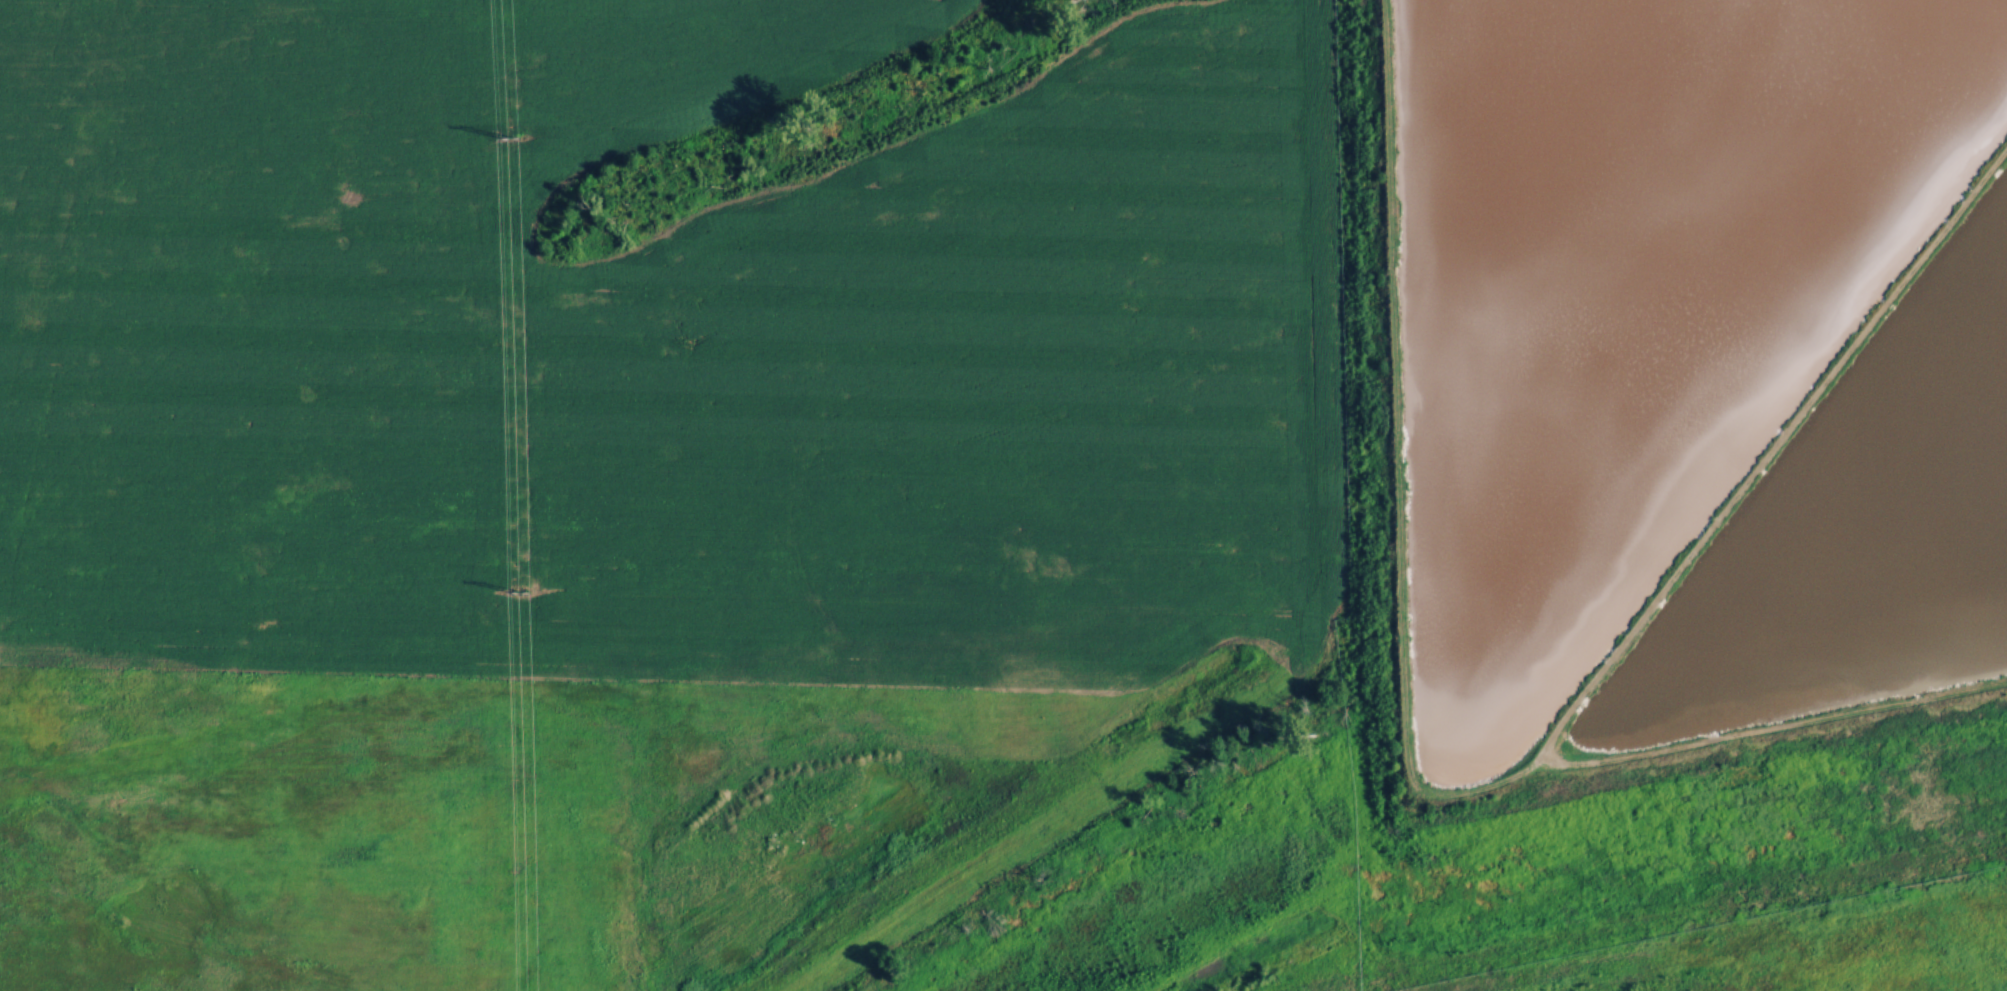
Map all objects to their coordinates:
power tower: (522, 137)
road: (1761, 456)
power tower: (531, 589)
road: (1403, 696)

